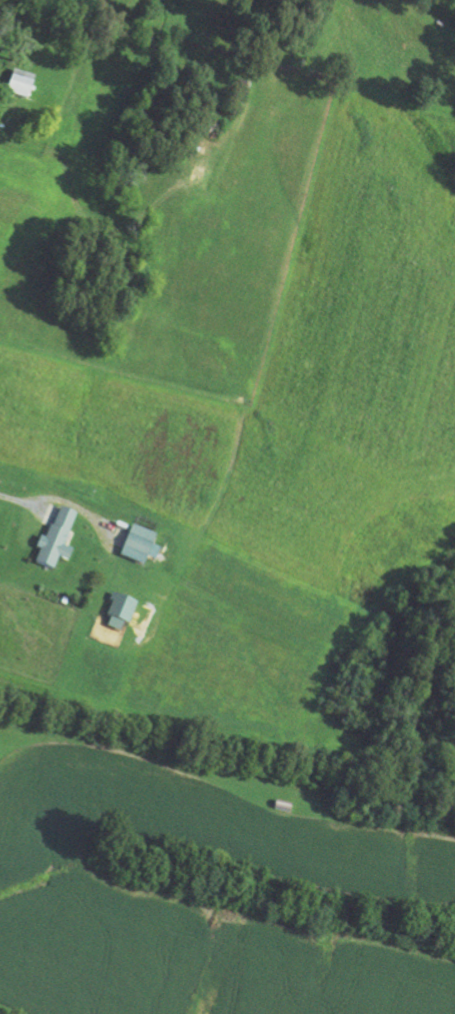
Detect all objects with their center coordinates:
road: (4, 12)
building: (19, 88)
building: (57, 541)
building: (140, 547)

